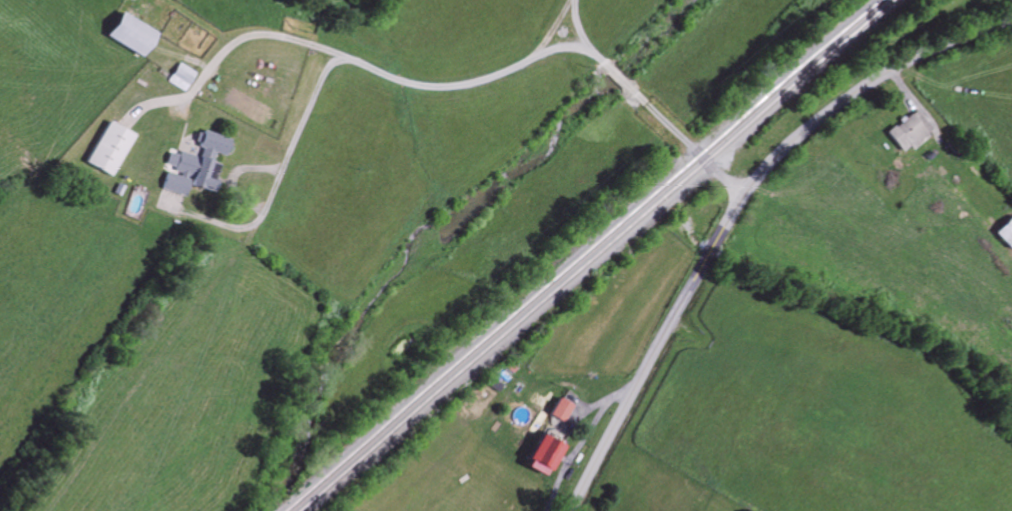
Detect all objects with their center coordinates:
road: (576, 22)
building: (136, 28)
building: (183, 77)
road: (481, 79)
building: (925, 121)
building: (909, 134)
building: (111, 148)
building: (196, 165)
road: (279, 178)
road: (732, 208)
railway: (582, 255)
railway: (602, 259)
building: (564, 410)
building: (549, 456)

